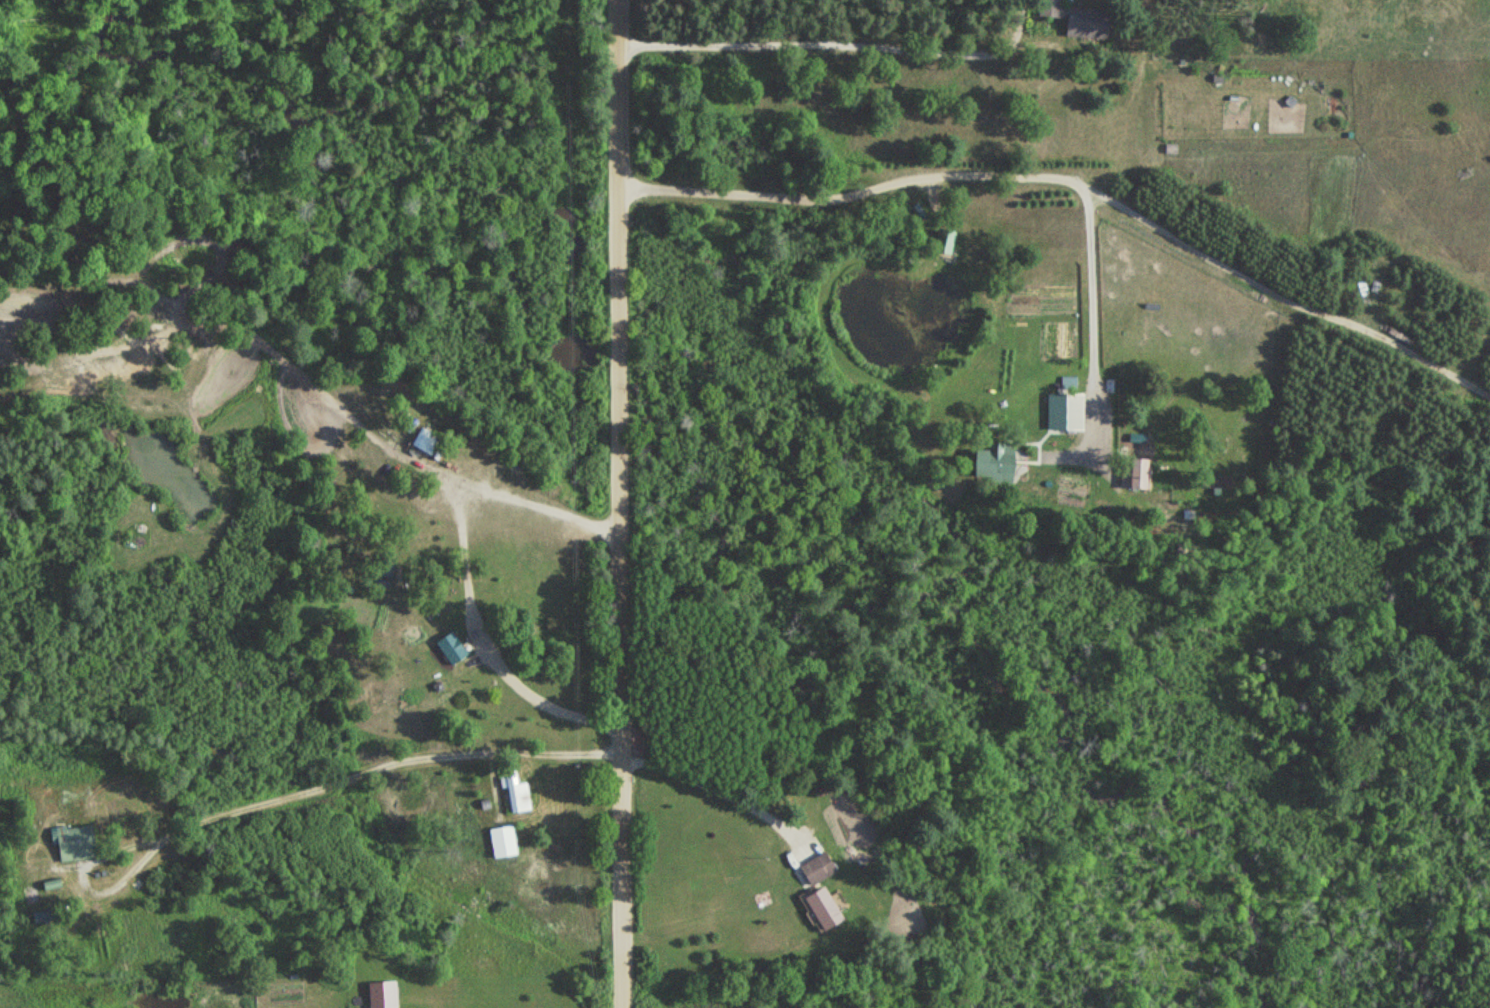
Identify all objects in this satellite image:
building: (1084, 22)
road: (805, 42)
road: (852, 189)
building: (944, 242)
road: (1287, 298)
road: (1094, 315)
building: (1060, 419)
building: (425, 442)
road: (1053, 454)
building: (988, 463)
road: (1100, 464)
building: (1133, 474)
road: (624, 503)
building: (449, 647)
building: (516, 793)
building: (500, 843)
building: (73, 844)
building: (814, 869)
building: (819, 908)
building: (388, 1007)

